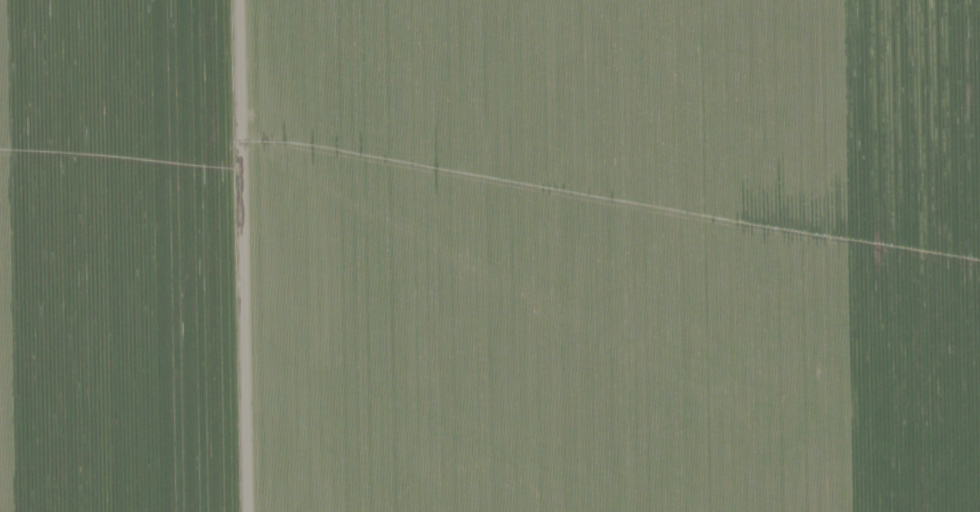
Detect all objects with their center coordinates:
crop: (490, 256)

